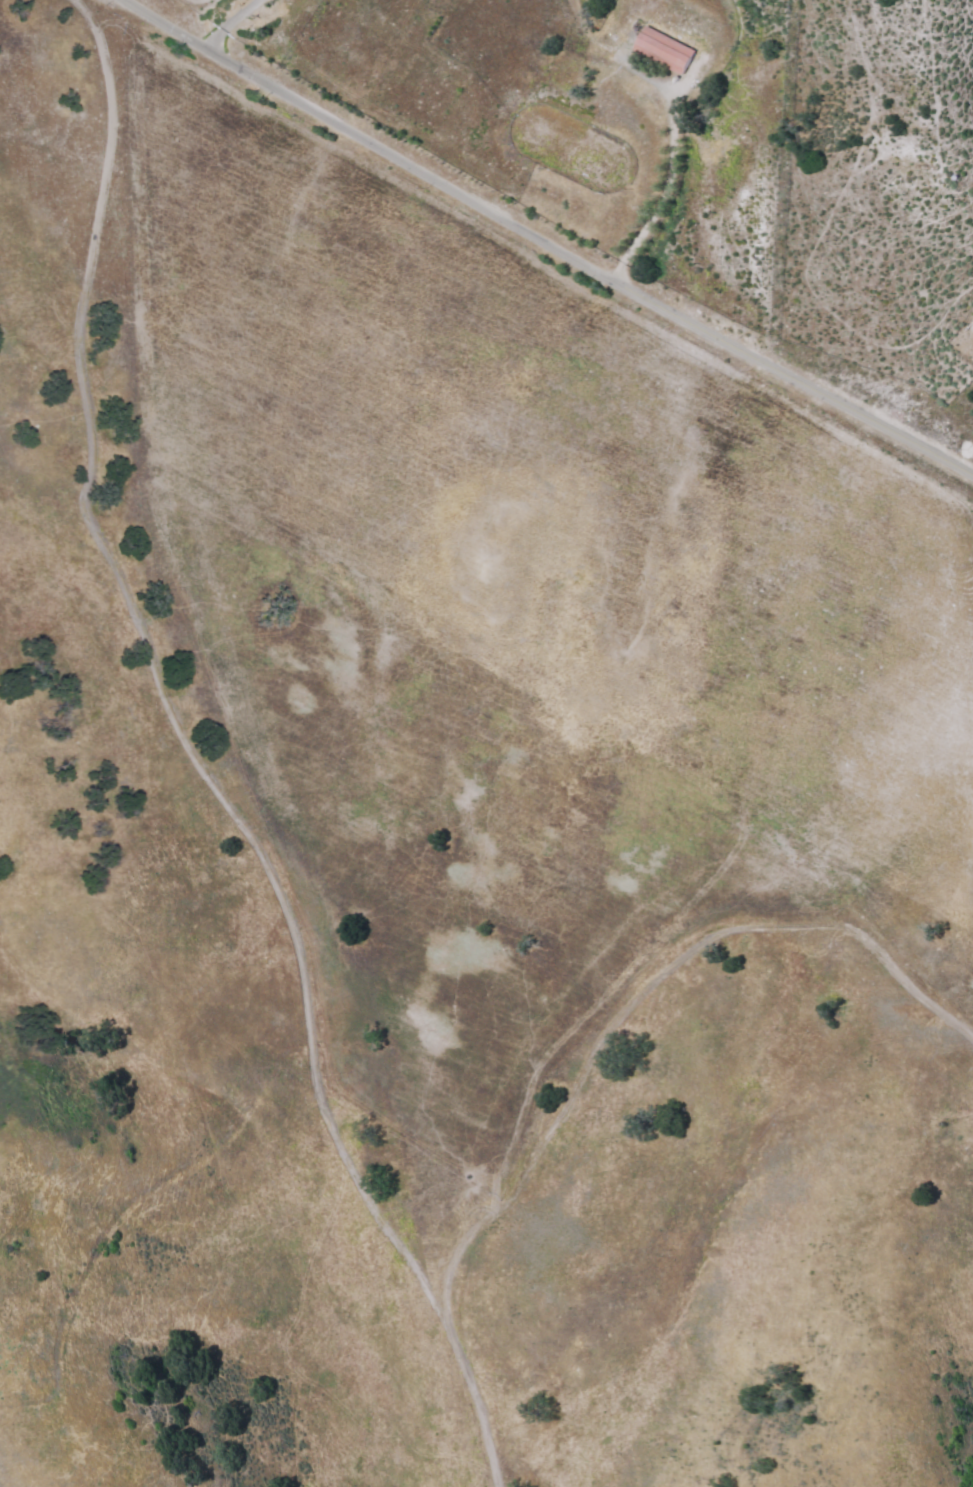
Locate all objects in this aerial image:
building: (662, 49)
road: (547, 241)
road: (265, 745)

